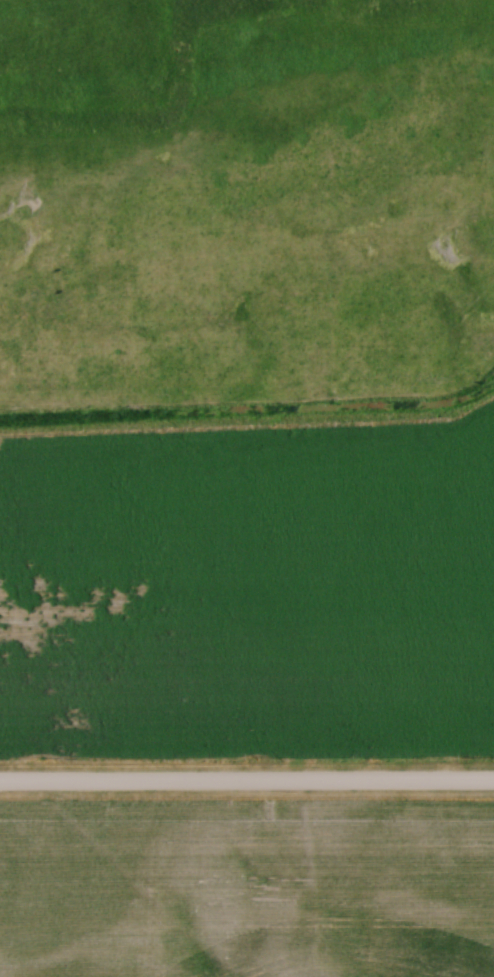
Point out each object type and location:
road: (247, 785)

